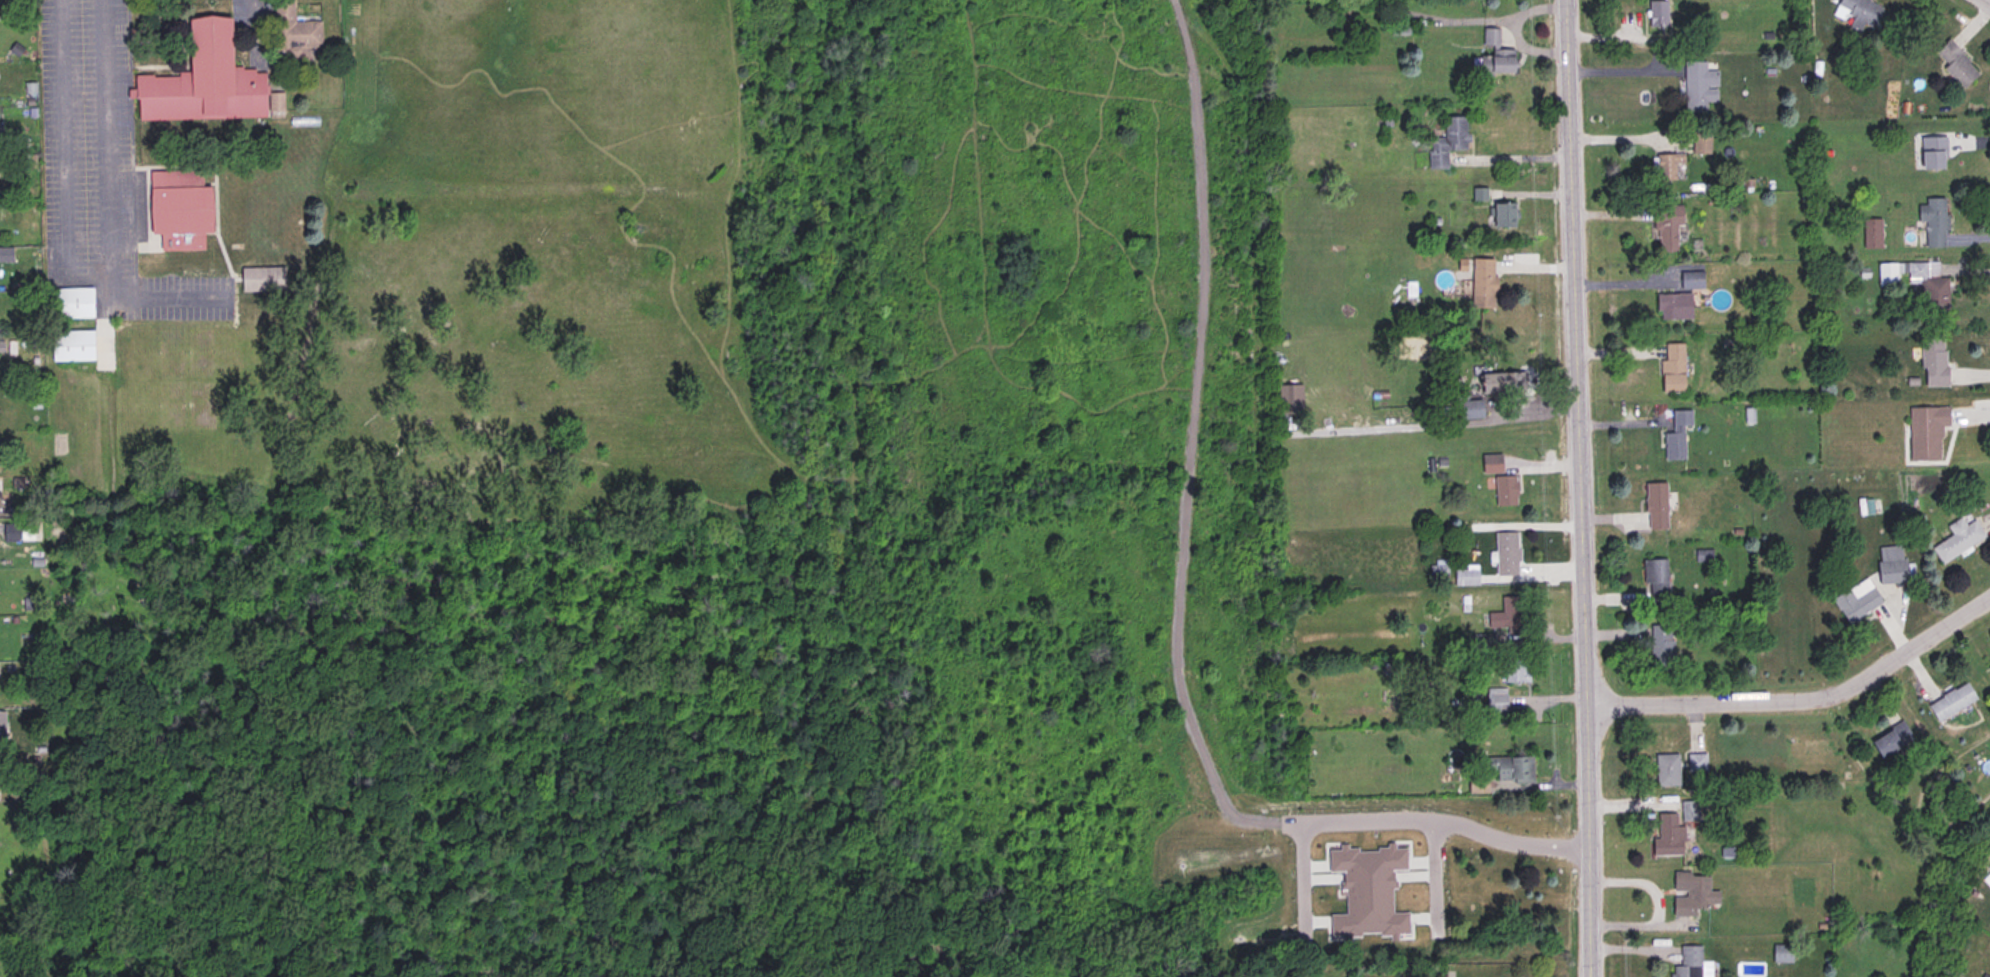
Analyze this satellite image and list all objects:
road: (1989, 0)
building: (1657, 14)
building: (1860, 14)
road: (251, 24)
building: (1398, 29)
parking lot: (252, 30)
building: (292, 34)
building: (15, 49)
building: (1495, 55)
building: (1956, 64)
building: (203, 80)
building: (29, 86)
building: (1696, 87)
building: (29, 101)
building: (275, 104)
building: (31, 111)
road: (106, 140)
building: (1446, 141)
building: (1932, 153)
road: (1514, 160)
building: (1669, 166)
parking lot: (101, 171)
building: (175, 177)
building: (1478, 193)
building: (1503, 214)
building: (180, 216)
building: (1933, 221)
building: (1666, 225)
road: (63, 226)
building: (1871, 234)
building: (5, 253)
road: (1201, 272)
building: (263, 278)
building: (1690, 280)
building: (1917, 280)
building: (1483, 285)
building: (71, 302)
building: (1673, 306)
building: (72, 345)
building: (1932, 360)
building: (1672, 368)
building: (1501, 382)
building: (1289, 399)
building: (1466, 409)
building: (1925, 431)
building: (1676, 435)
building: (1491, 464)
road: (1579, 488)
building: (1505, 491)
building: (1654, 506)
building: (11, 532)
building: (1957, 539)
building: (1506, 554)
building: (35, 561)
building: (1891, 564)
building: (1438, 568)
building: (1466, 577)
building: (1655, 582)
building: (1856, 601)
building: (1505, 615)
building: (1661, 647)
building: (1989, 667)
building: (1513, 670)
road: (1802, 699)
building: (1495, 700)
building: (1951, 702)
road: (1187, 712)
building: (2, 729)
building: (1890, 739)
building: (39, 747)
building: (34, 758)
building: (1696, 762)
building: (1514, 769)
building: (1666, 770)
building: (1478, 785)
building: (1687, 809)
road: (1438, 821)
building: (1667, 837)
building: (1986, 882)
building: (1694, 888)
building: (1367, 891)
building: (1490, 893)
road: (1654, 905)
building: (1781, 953)
building: (1695, 960)

